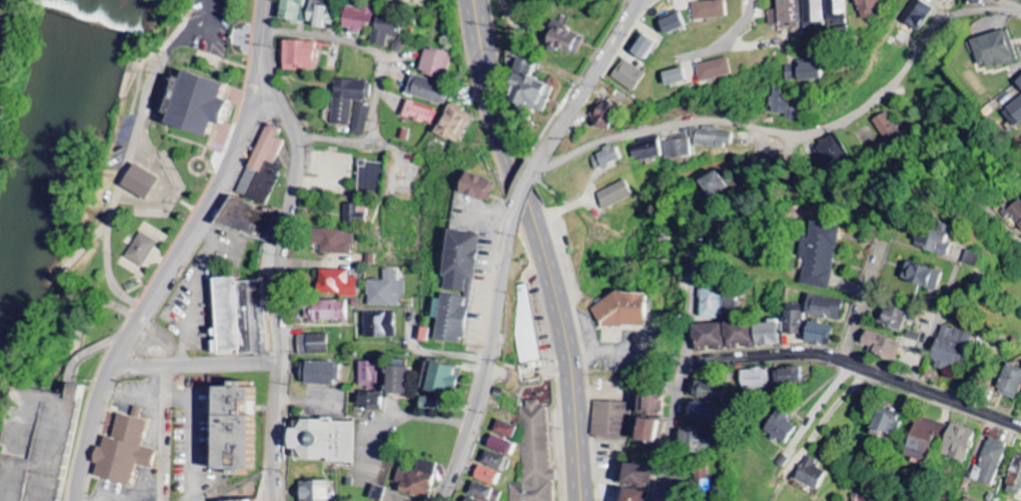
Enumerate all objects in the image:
building: (940, 0)
building: (394, 1)
building: (515, 1)
building: (975, 2)
building: (869, 8)
road: (636, 11)
building: (707, 11)
building: (836, 11)
building: (812, 12)
building: (308, 13)
building: (785, 13)
building: (915, 15)
building: (360, 19)
road: (265, 24)
building: (669, 25)
parking lot: (203, 28)
building: (386, 30)
building: (562, 41)
road: (365, 47)
building: (641, 49)
building: (994, 51)
building: (302, 55)
building: (435, 63)
building: (714, 70)
building: (803, 72)
building: (628, 76)
building: (673, 78)
building: (1018, 83)
building: (528, 89)
building: (427, 90)
building: (347, 98)
building: (785, 105)
building: (200, 109)
building: (1015, 113)
building: (420, 114)
building: (604, 115)
building: (359, 120)
building: (454, 124)
building: (886, 127)
road: (794, 134)
road: (327, 136)
road: (302, 137)
building: (710, 138)
road: (356, 139)
building: (678, 148)
building: (646, 151)
building: (608, 157)
fountain: (198, 164)
river: (51, 167)
building: (261, 171)
road: (221, 175)
building: (370, 175)
building: (138, 181)
building: (718, 183)
building: (158, 185)
building: (476, 185)
road: (730, 191)
building: (614, 194)
road: (816, 213)
building: (1016, 213)
building: (356, 215)
building: (248, 224)
road: (511, 238)
building: (935, 239)
building: (331, 246)
road: (543, 247)
building: (141, 249)
road: (165, 252)
building: (820, 255)
building: (971, 258)
road: (278, 272)
building: (921, 275)
building: (455, 286)
building: (335, 291)
road: (838, 297)
building: (381, 302)
building: (719, 303)
building: (823, 307)
building: (621, 311)
building: (891, 317)
building: (326, 320)
building: (795, 320)
building: (243, 323)
building: (818, 333)
building: (423, 334)
building: (378, 335)
building: (738, 335)
building: (523, 338)
building: (880, 344)
building: (950, 346)
building: (312, 347)
road: (224, 368)
road: (859, 368)
road: (141, 369)
building: (787, 376)
building: (438, 378)
building: (368, 379)
building: (756, 379)
building: (320, 380)
building: (397, 380)
building: (1010, 381)
building: (709, 390)
road: (100, 391)
building: (428, 403)
building: (368, 408)
building: (705, 413)
building: (648, 417)
building: (611, 419)
building: (887, 420)
road: (671, 427)
building: (780, 427)
building: (504, 429)
road: (168, 435)
building: (923, 437)
building: (695, 439)
building: (957, 442)
building: (321, 443)
building: (235, 444)
building: (124, 449)
building: (38, 450)
parking lot: (38, 450)
building: (536, 457)
building: (492, 459)
road: (983, 459)
building: (989, 461)
building: (811, 474)
building: (488, 475)
building: (636, 475)
building: (1014, 478)
building: (416, 479)
building: (702, 482)
building: (485, 492)
building: (605, 492)
building: (315, 493)
building: (376, 493)
building: (634, 495)
building: (470, 498)
building: (241, 500)

